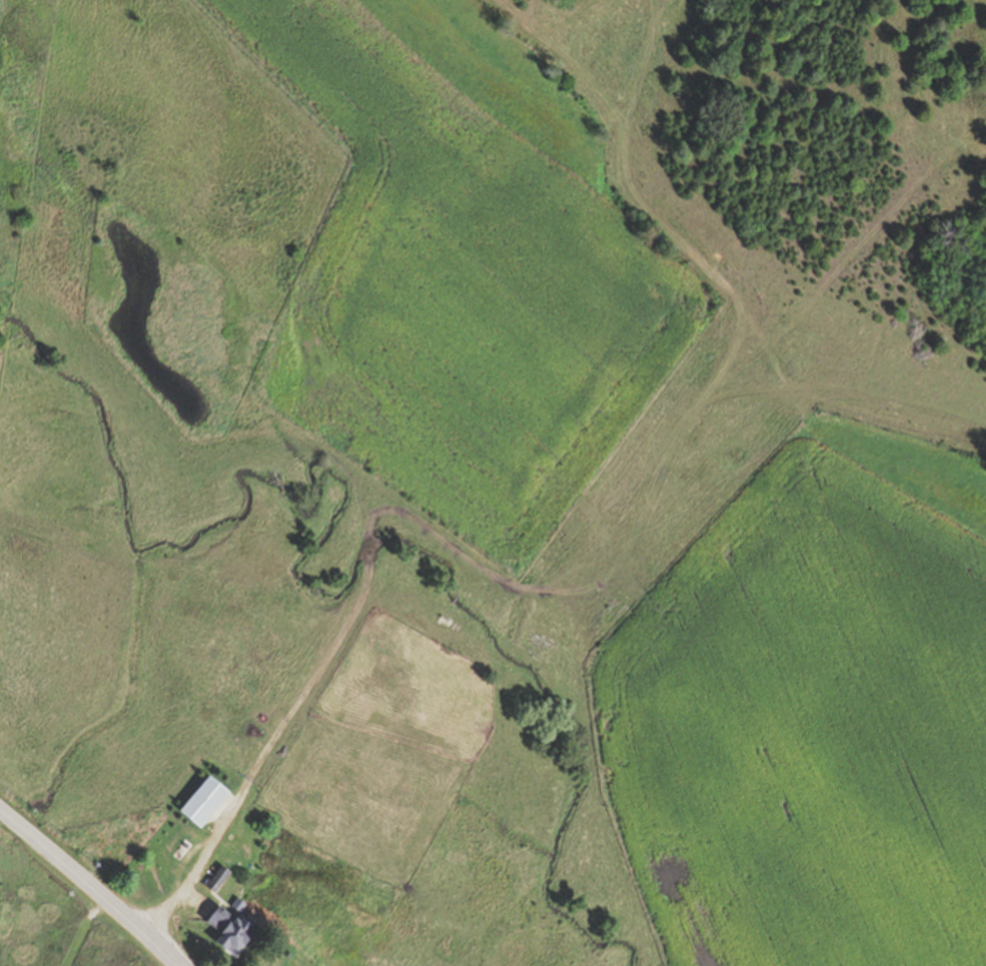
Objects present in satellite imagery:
road: (627, 518)
road: (454, 599)
building: (206, 801)
road: (194, 876)
building: (219, 879)
road: (92, 884)
building: (233, 929)

